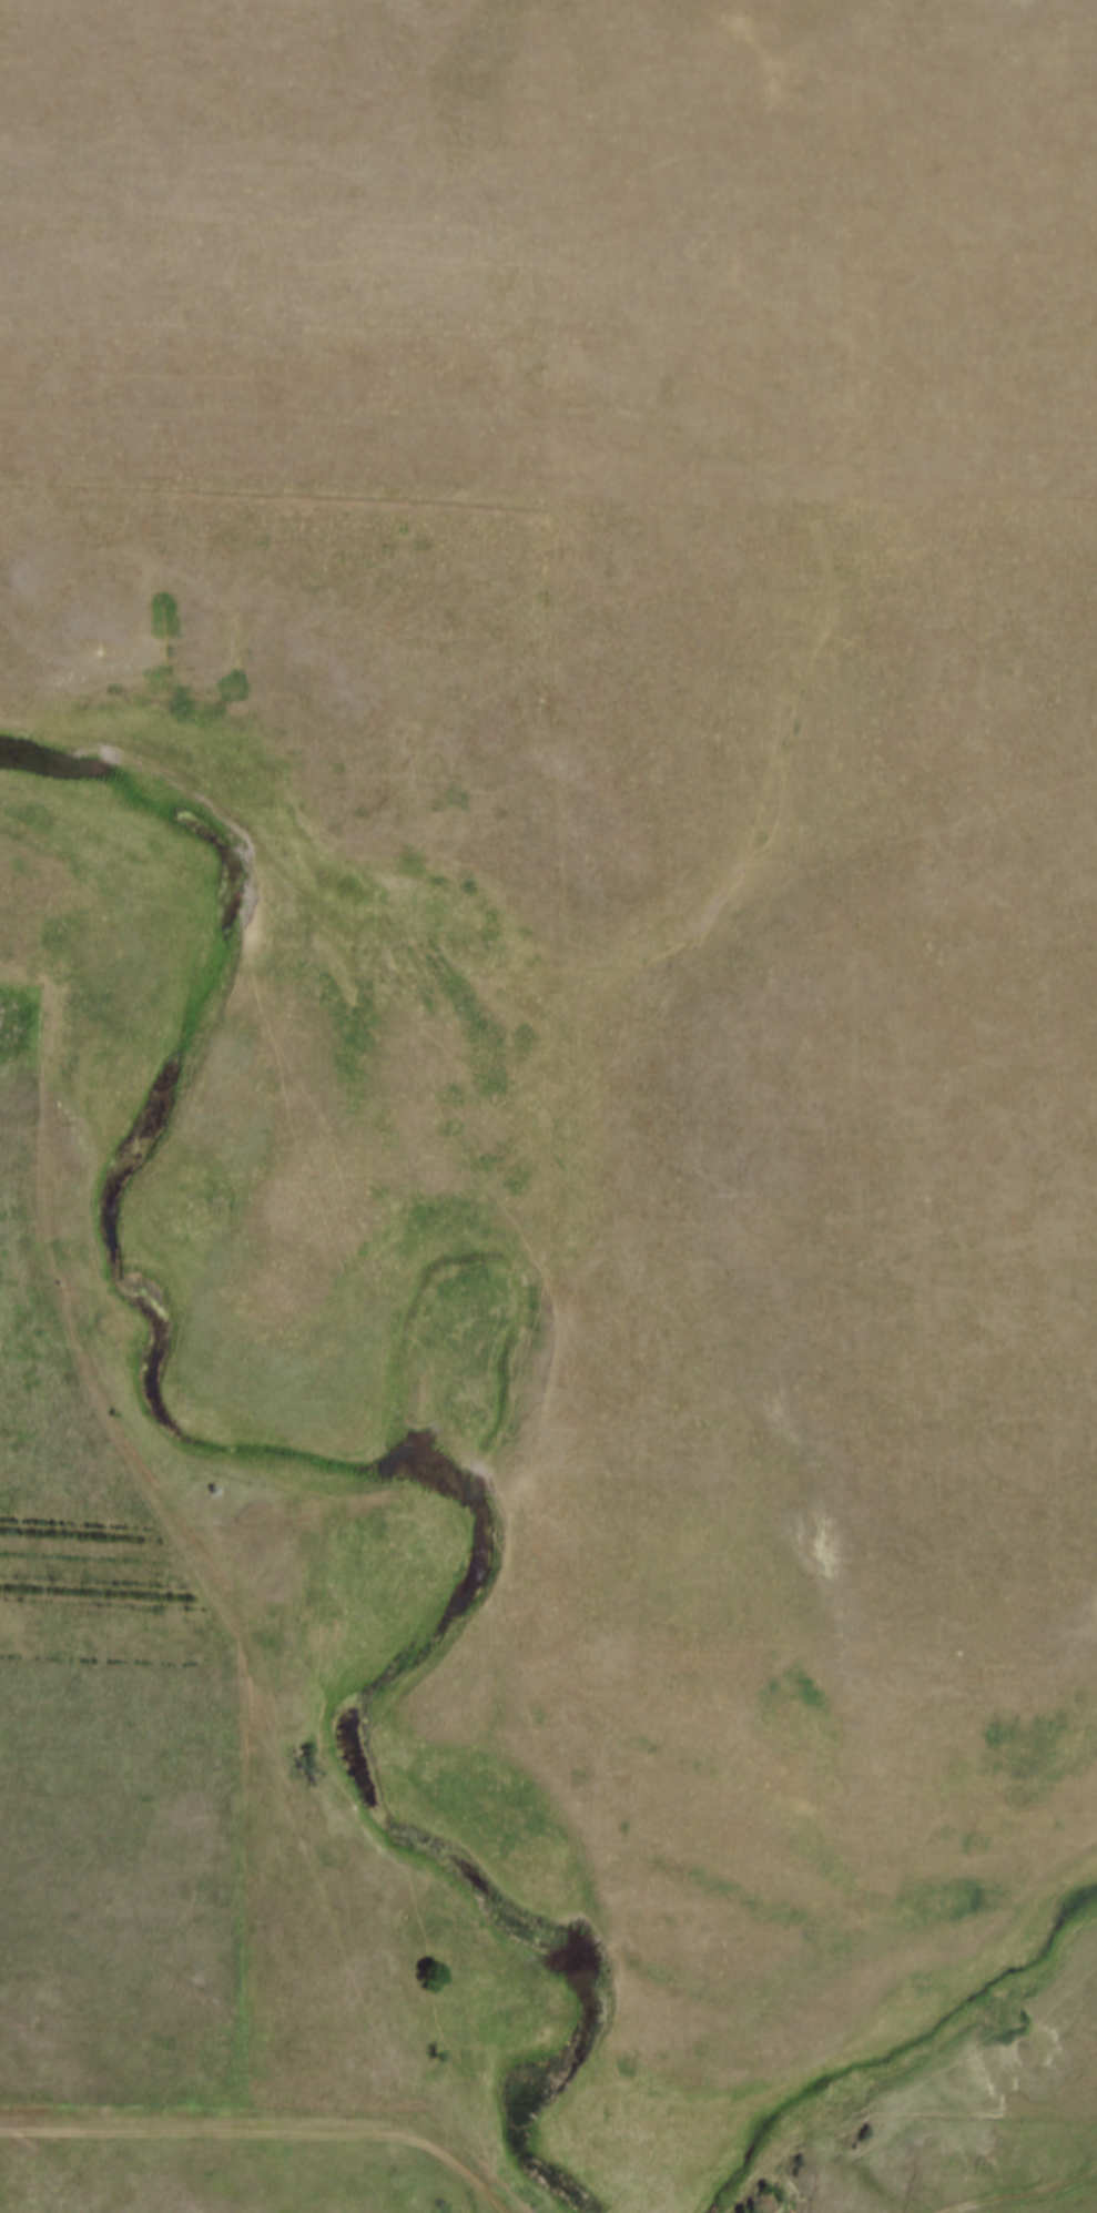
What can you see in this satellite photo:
road: (262, 2140)
road: (1044, 2196)

